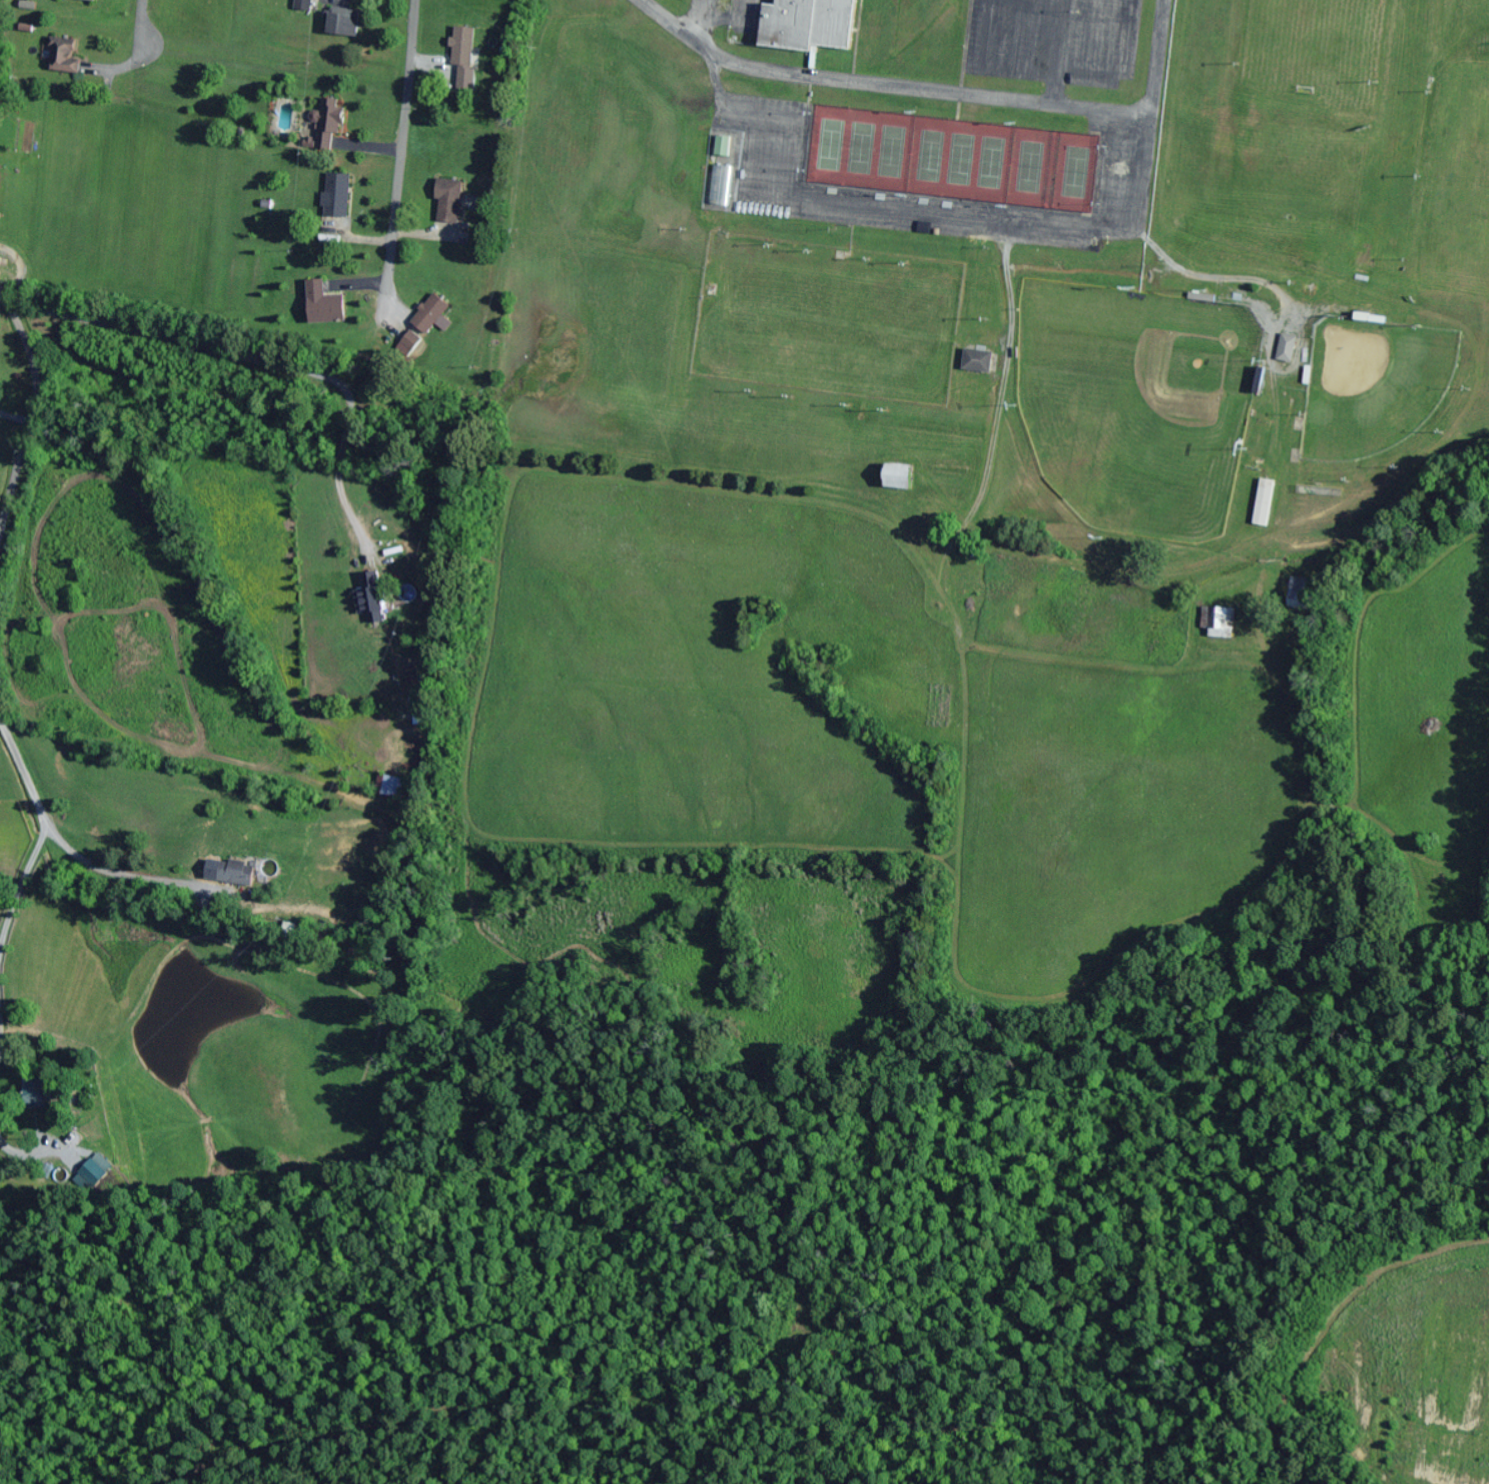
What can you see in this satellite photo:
building: (87, 1)
building: (304, 6)
road: (144, 18)
building: (345, 24)
building: (463, 47)
building: (63, 57)
road: (404, 123)
building: (329, 126)
building: (722, 147)
building: (721, 186)
building: (338, 196)
building: (449, 202)
building: (792, 260)
building: (325, 306)
building: (431, 316)
building: (1287, 349)
building: (980, 362)
road: (31, 419)
building: (902, 478)
building: (1264, 504)
building: (1302, 595)
building: (374, 600)
building: (1216, 620)
road: (22, 770)
building: (390, 787)
building: (238, 874)
building: (327, 880)
building: (43, 1092)
building: (76, 1141)
building: (97, 1171)

